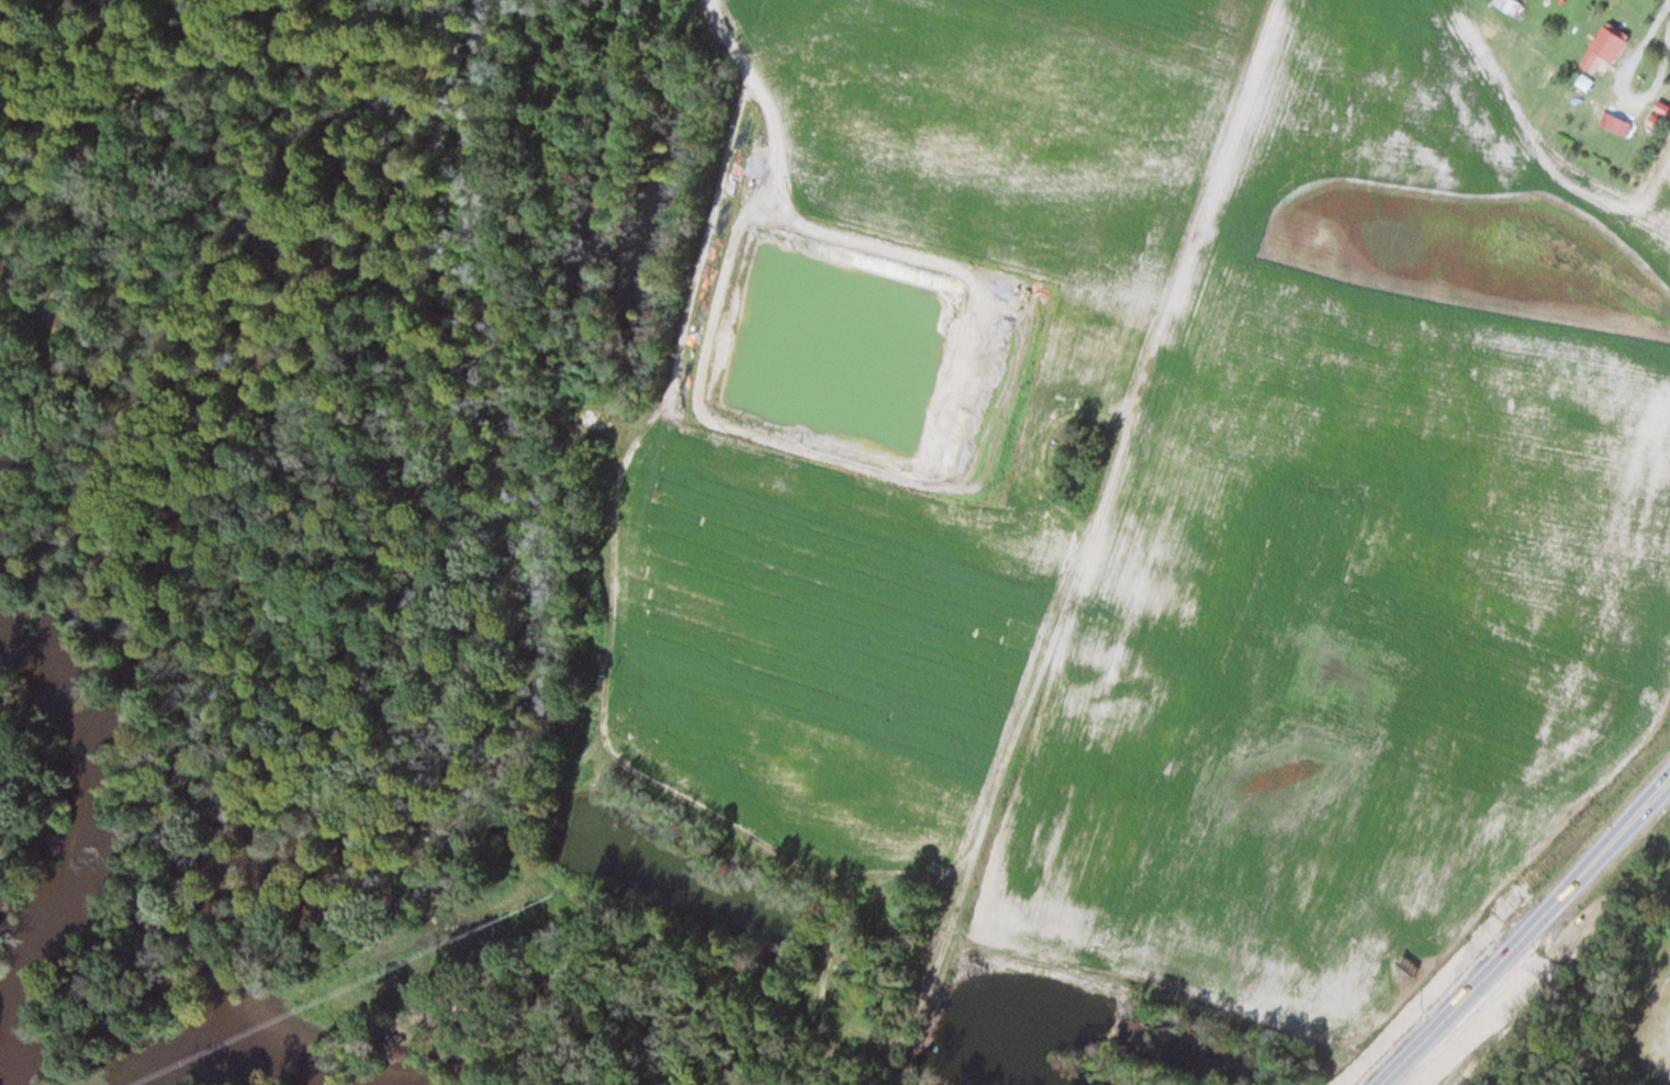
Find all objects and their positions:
building: (1506, 4)
building: (1603, 46)
road: (1522, 932)

